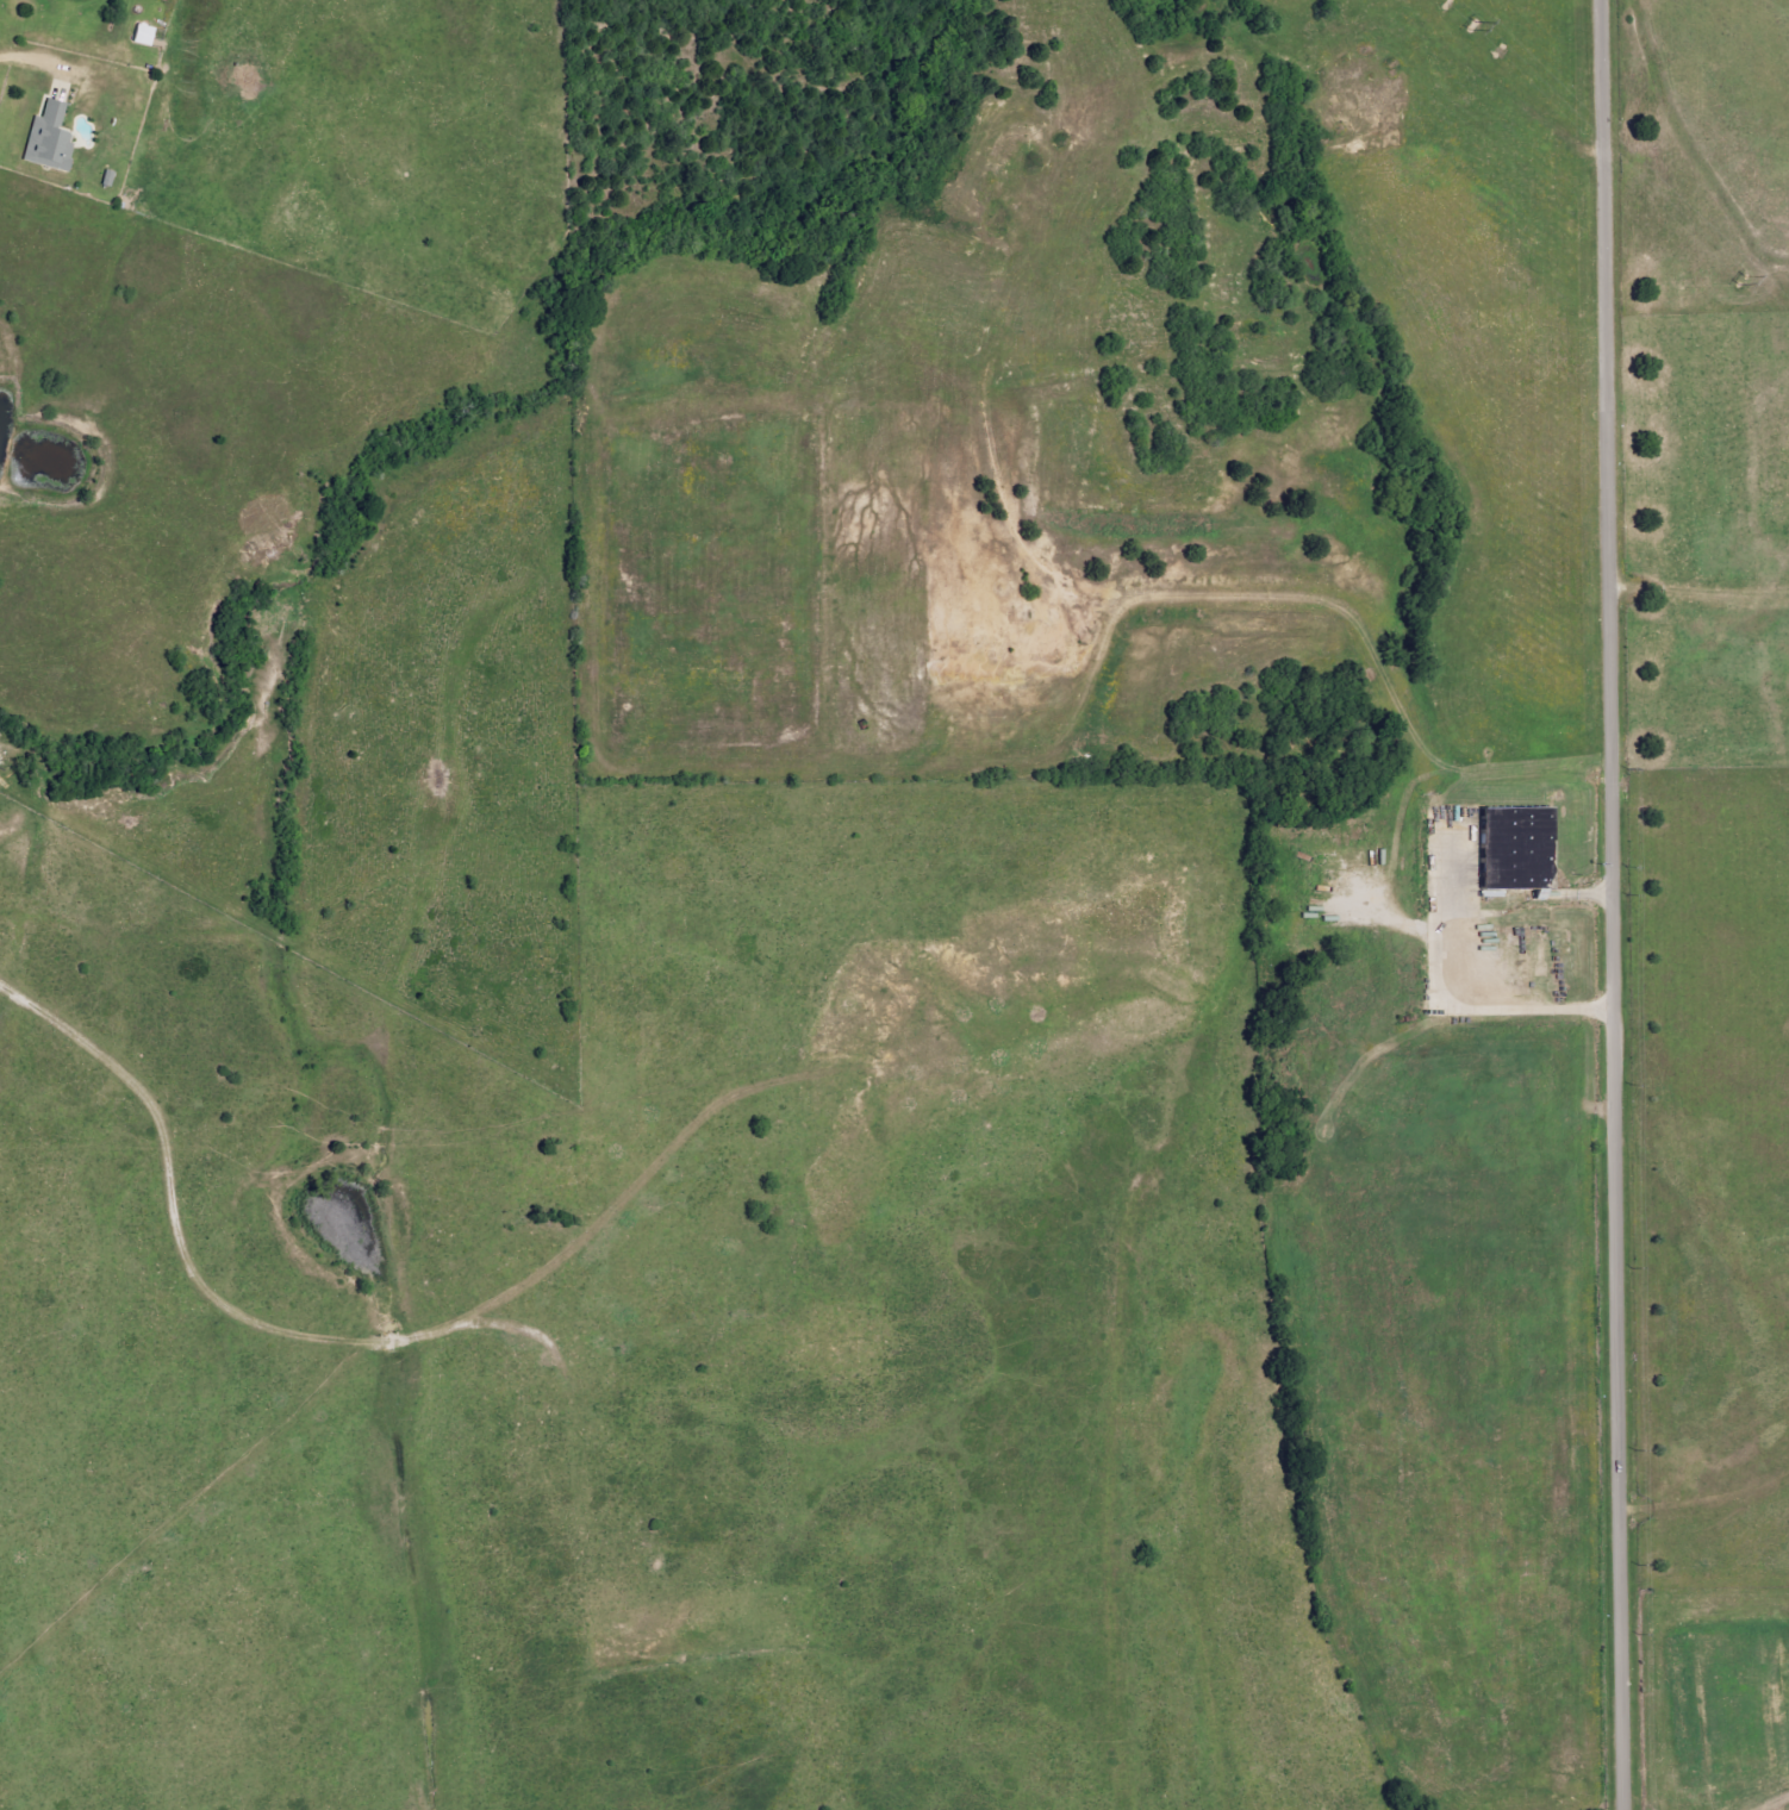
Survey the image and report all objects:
power tower: (1455, 17)
building: (142, 36)
road: (25, 58)
building: (43, 136)
power tower: (1735, 279)
building: (1511, 848)
road: (1616, 905)
road: (1446, 1005)

